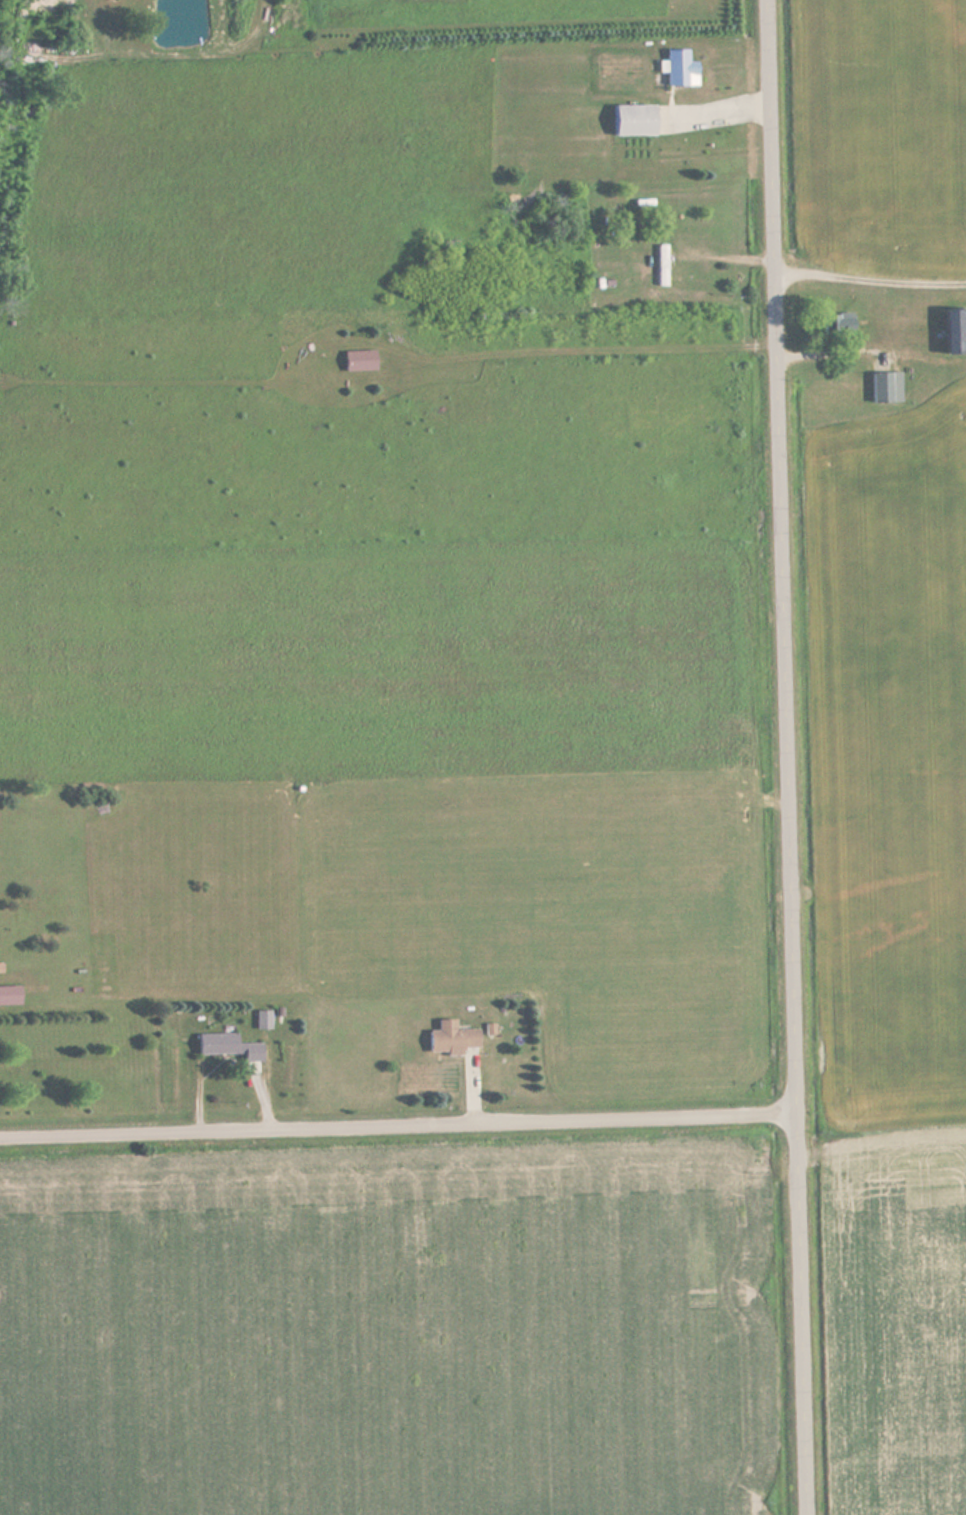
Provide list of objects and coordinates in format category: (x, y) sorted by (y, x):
building: (680, 69)
building: (634, 120)
building: (662, 265)
building: (838, 324)
building: (956, 331)
building: (360, 361)
building: (886, 387)
road: (783, 757)
building: (10, 995)
building: (263, 1020)
building: (451, 1039)
building: (217, 1044)
road: (396, 1126)

